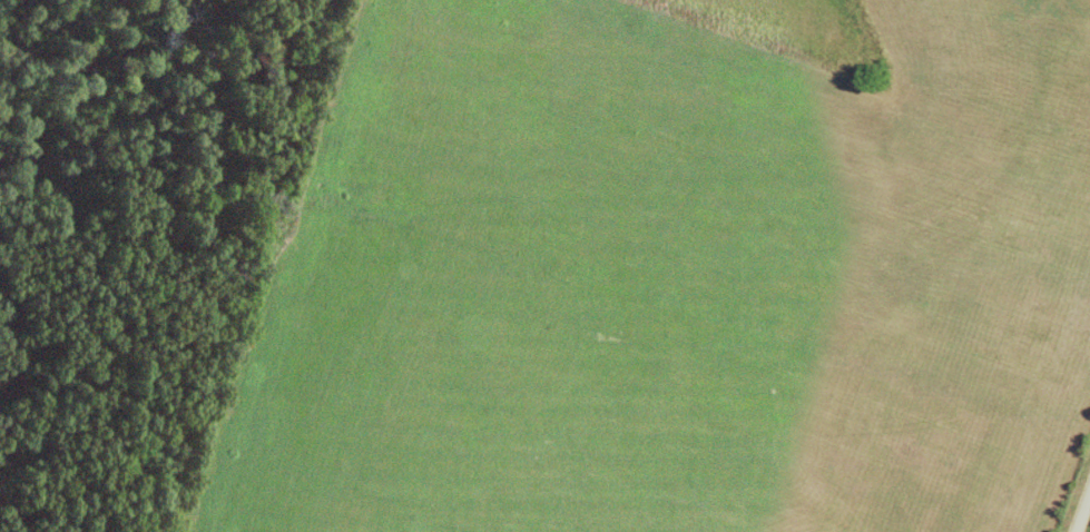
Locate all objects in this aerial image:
road: (1086, 522)

